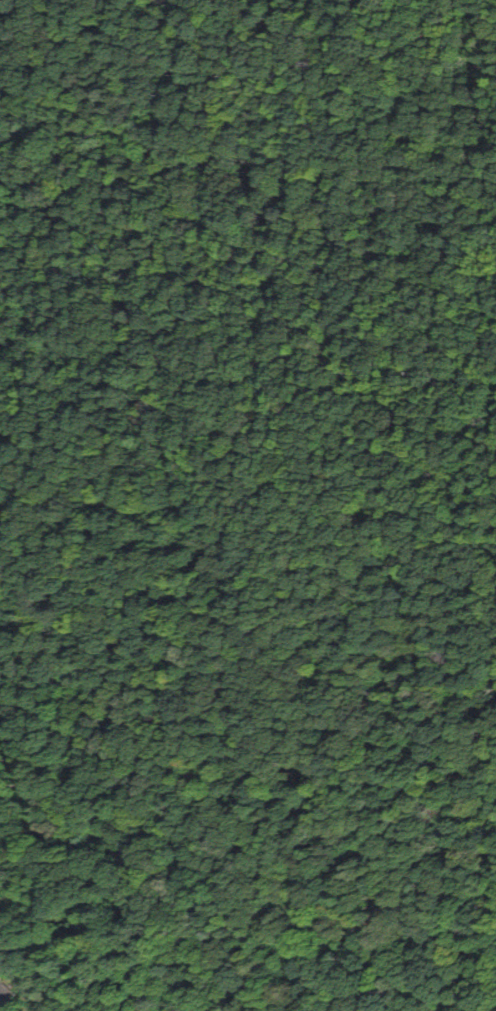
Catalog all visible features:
road: (44, 277)
road: (391, 369)
park: (256, 376)
road: (494, 400)
road: (55, 435)
road: (198, 481)
road: (265, 501)
road: (55, 799)
building: (4, 995)

